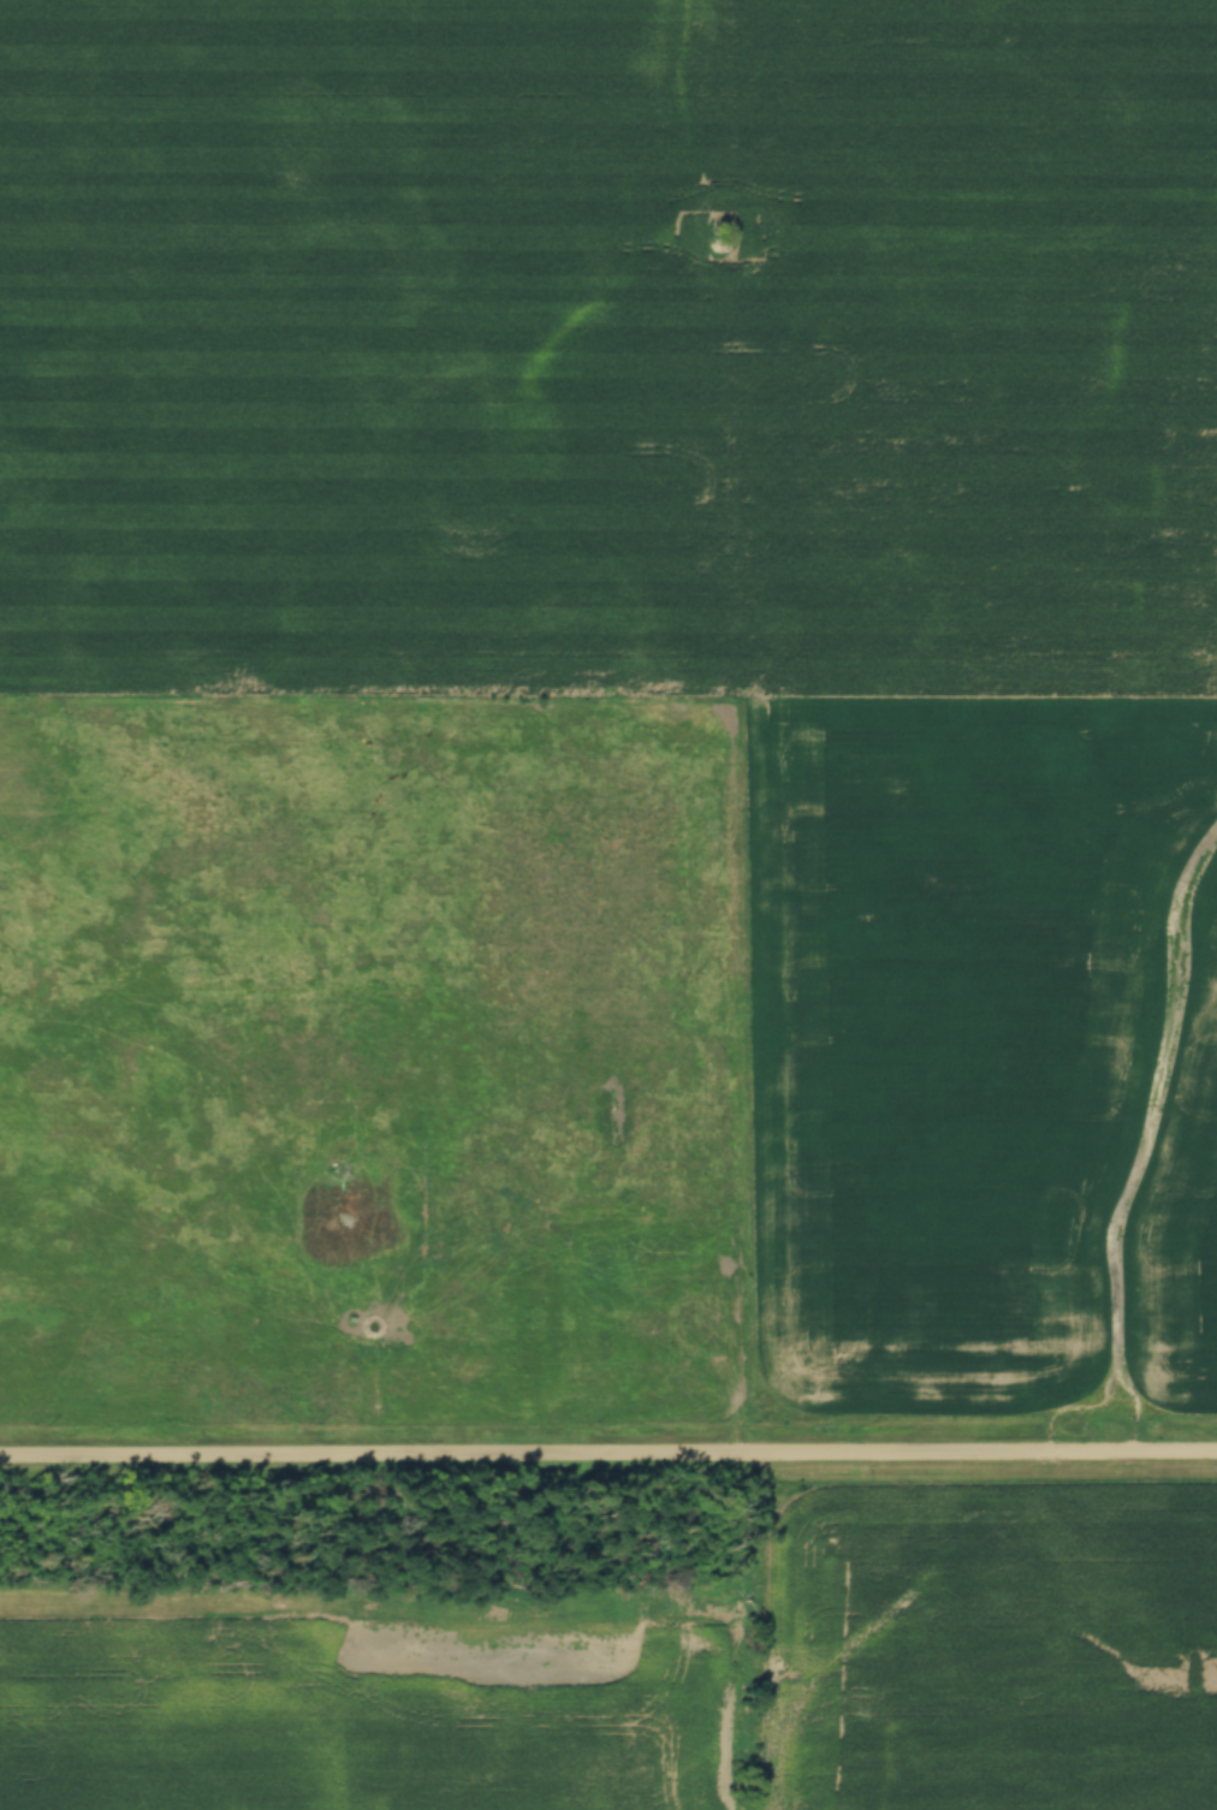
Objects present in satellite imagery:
road: (607, 1450)

